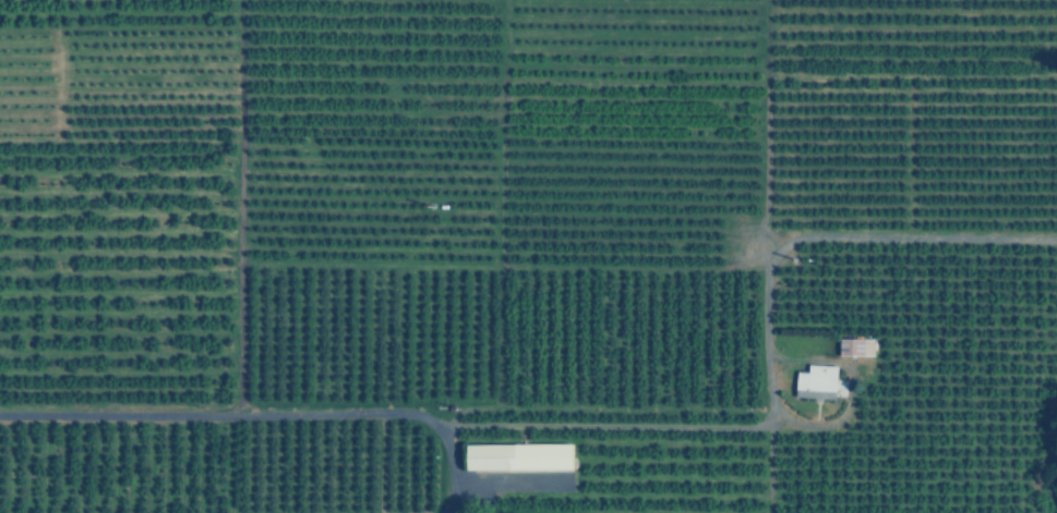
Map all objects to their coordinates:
road: (809, 235)
building: (853, 345)
building: (814, 380)
road: (255, 412)
road: (626, 425)
building: (517, 456)

